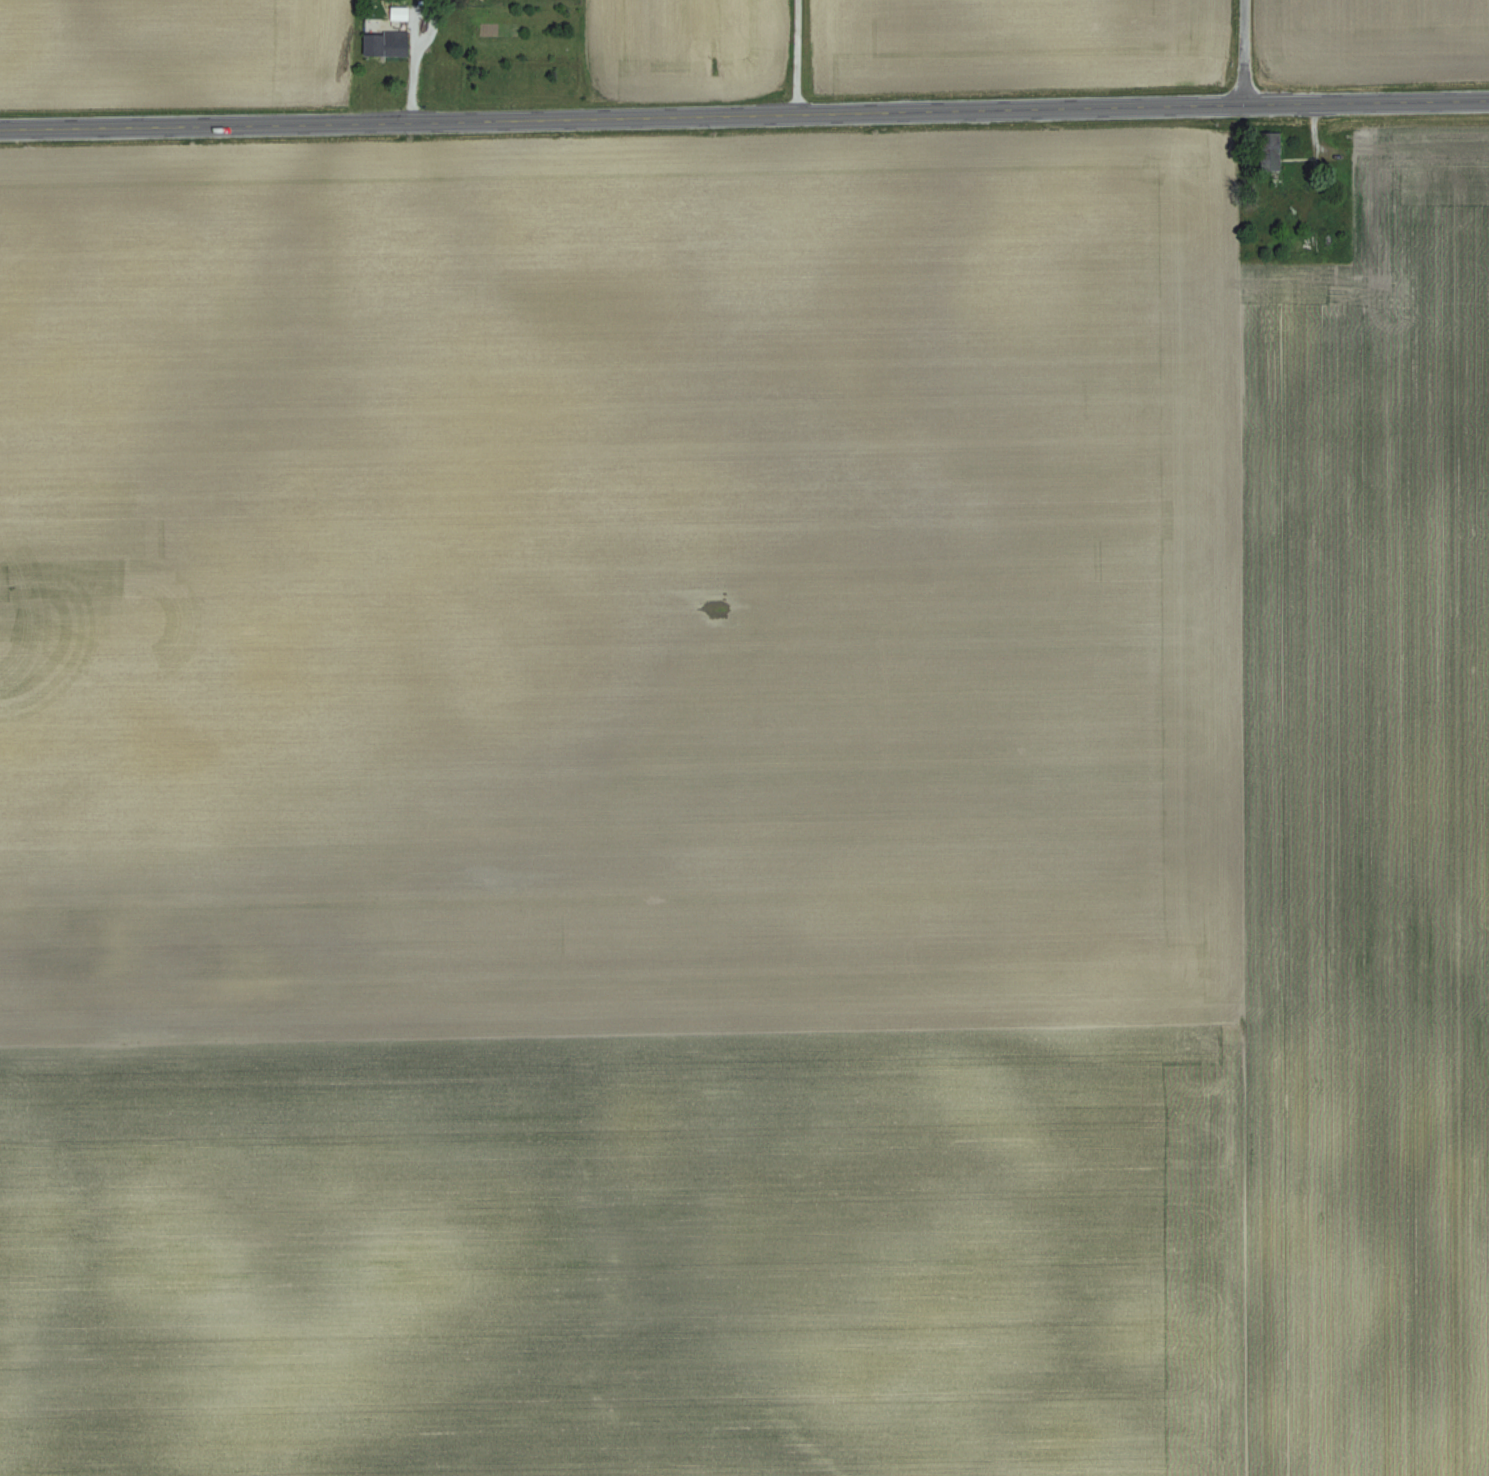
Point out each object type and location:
building: (388, 43)
road: (1246, 51)
road: (795, 57)
road: (744, 114)
building: (1273, 151)

